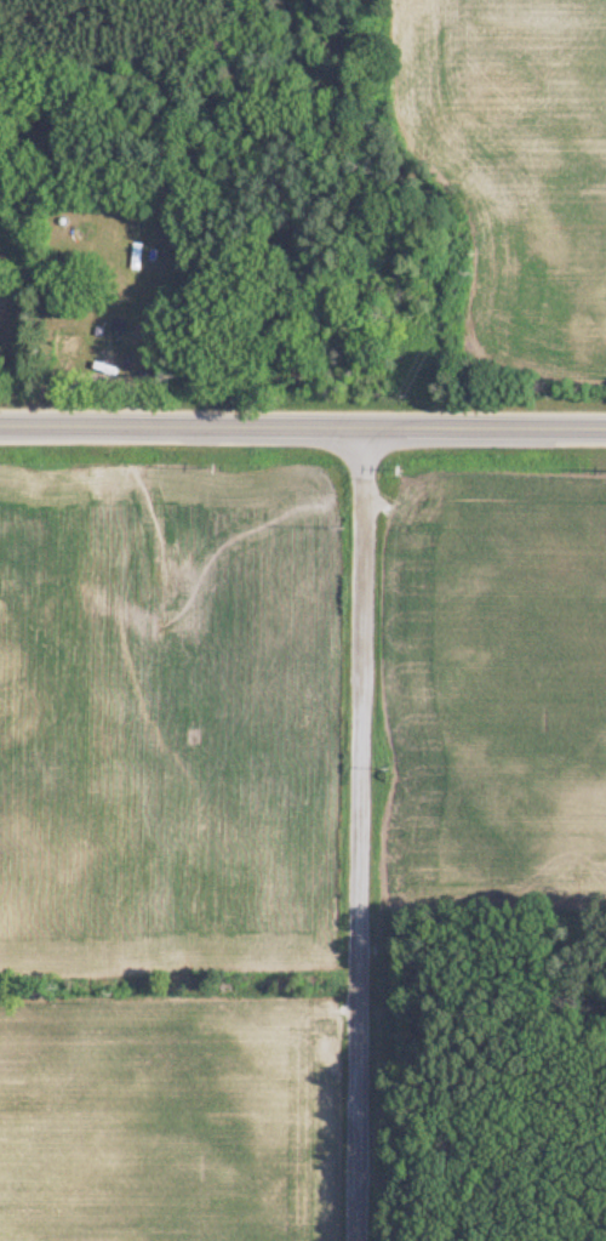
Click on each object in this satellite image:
building: (79, 358)
road: (302, 429)
road: (351, 835)

